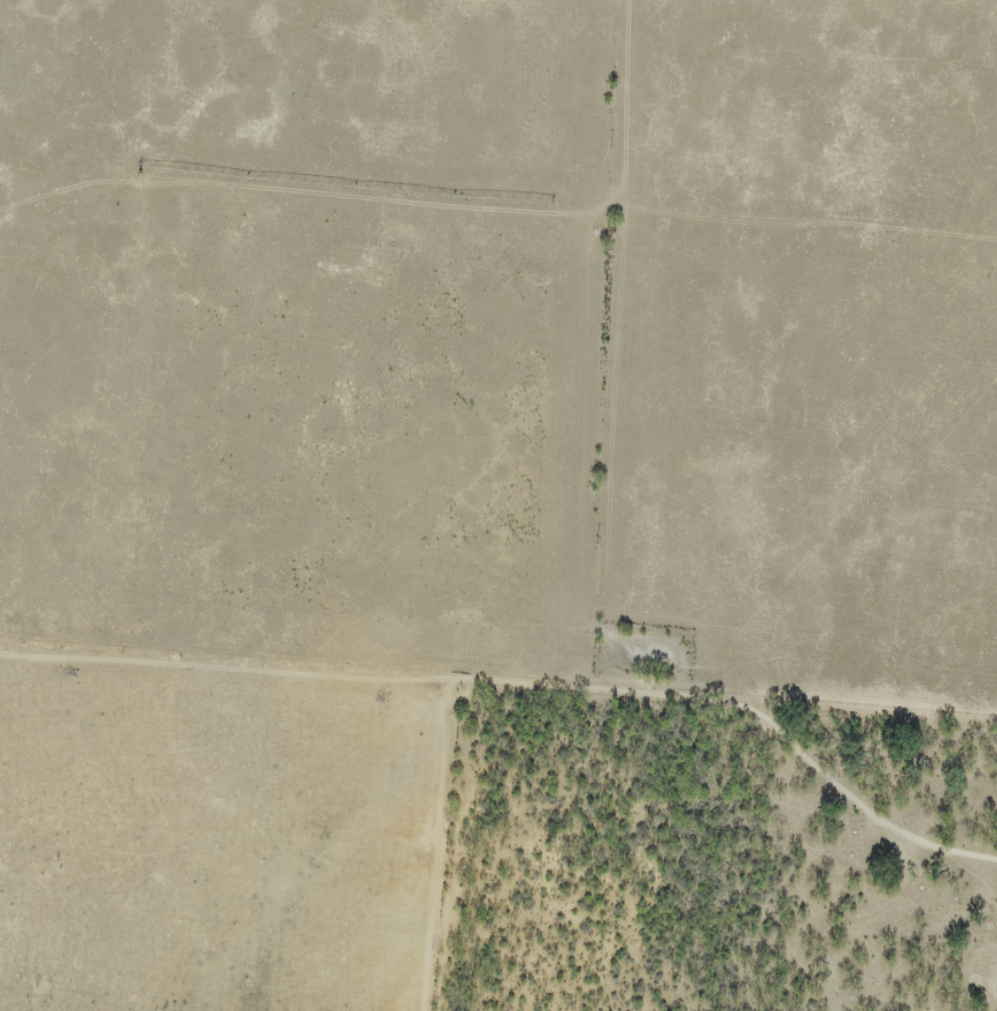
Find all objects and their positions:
road: (523, 682)

